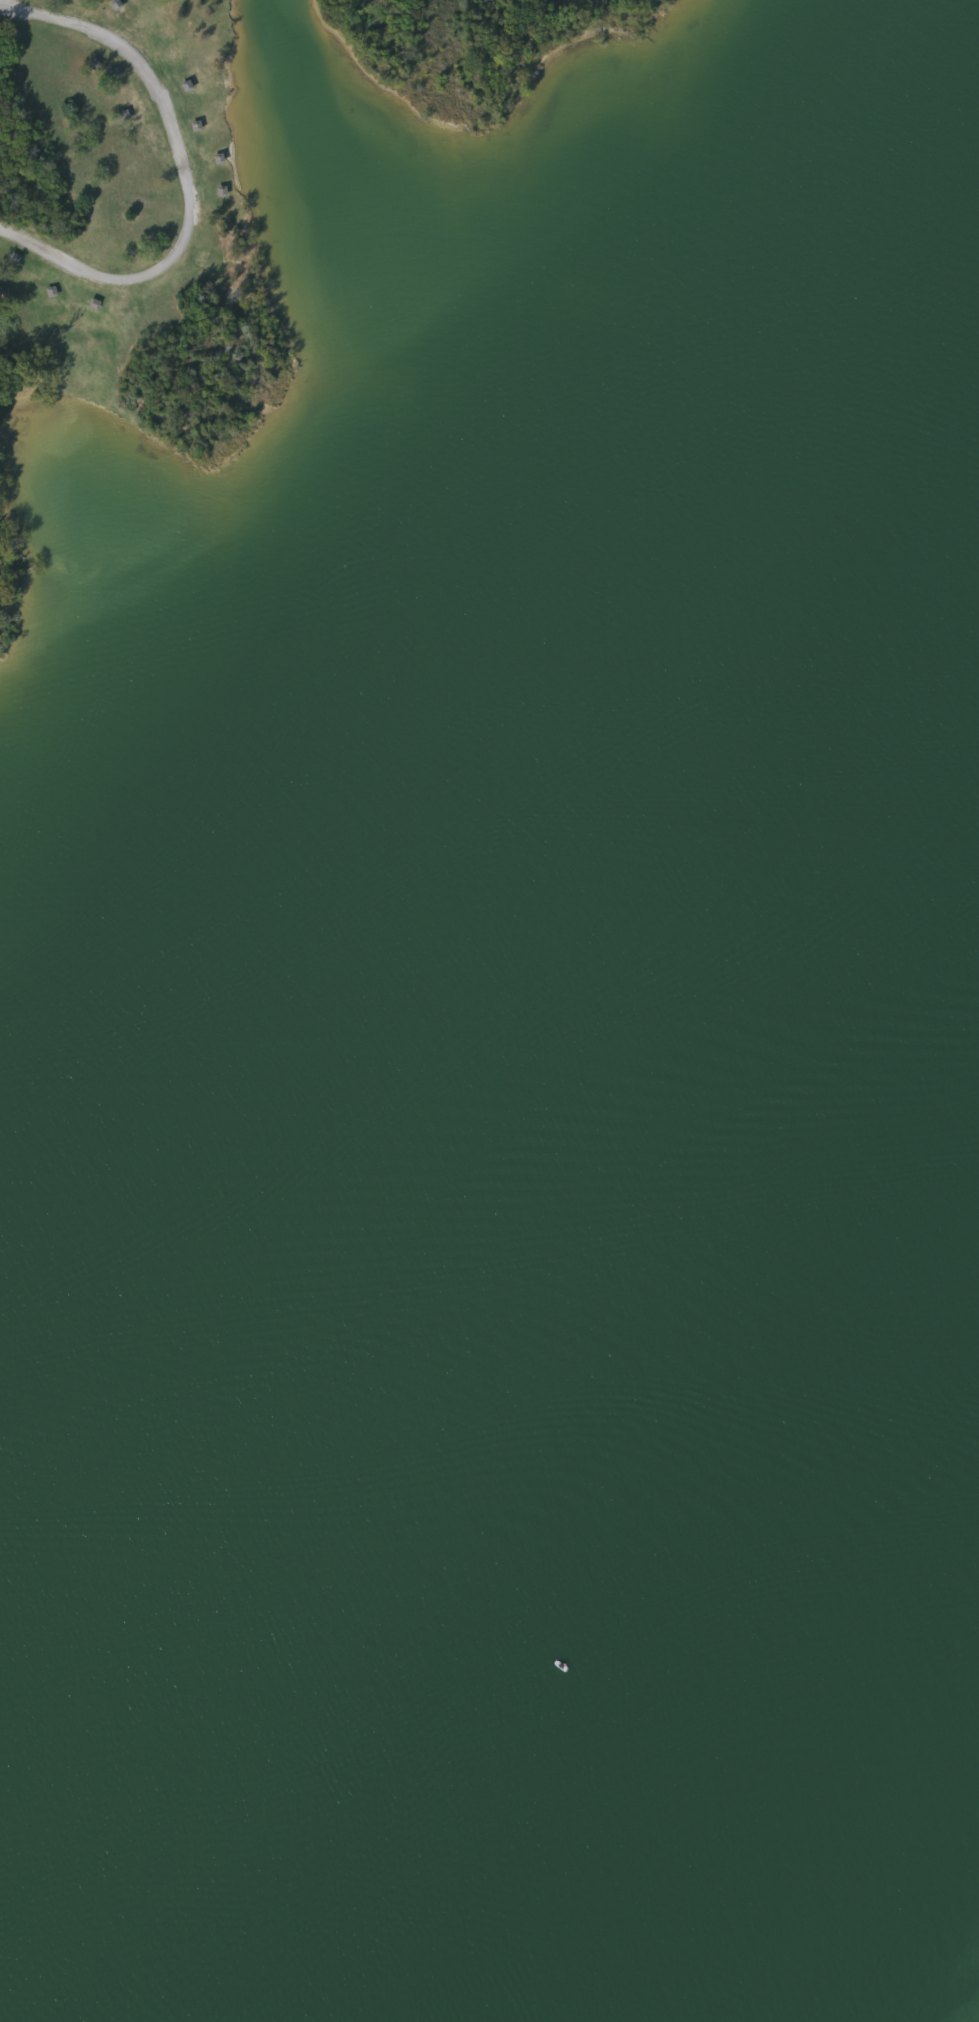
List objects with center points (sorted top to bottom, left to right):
park: (477, 49)
road: (190, 178)
park: (130, 242)

